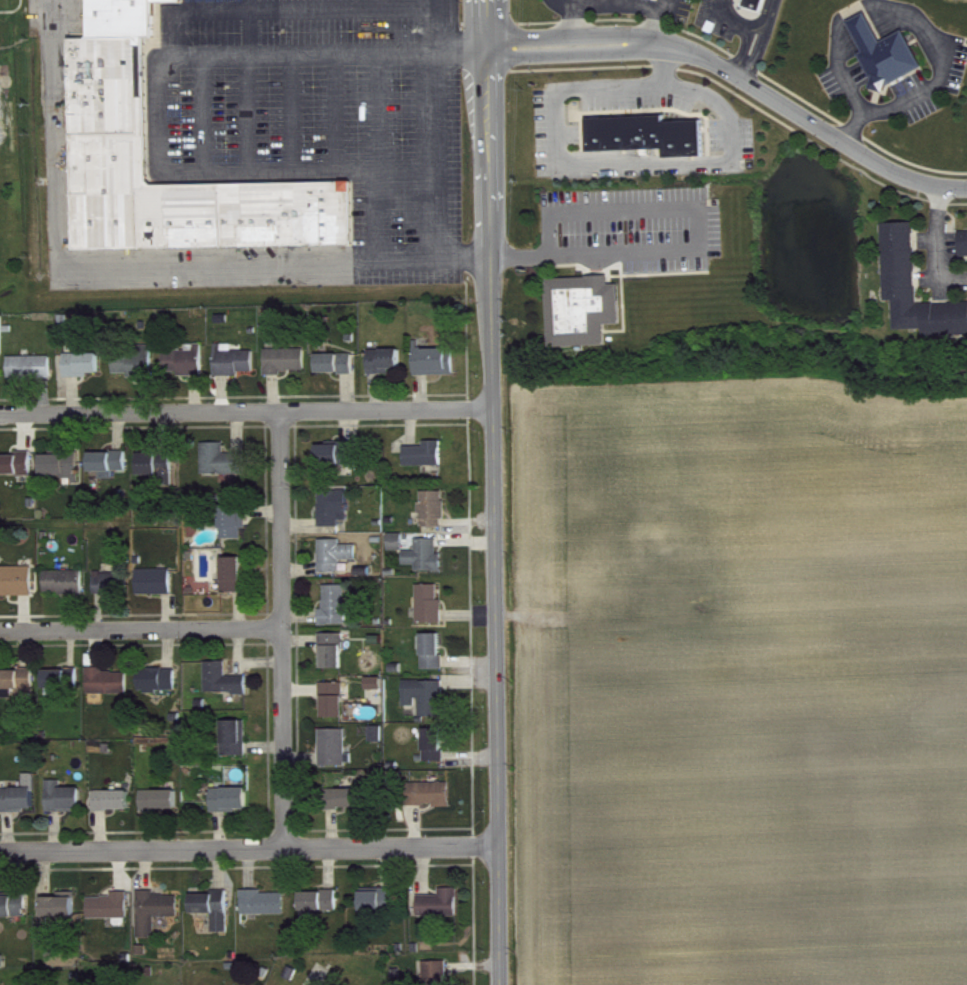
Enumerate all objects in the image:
road: (607, 1)
building: (645, 3)
road: (655, 3)
road: (567, 4)
building: (761, 9)
building: (121, 17)
road: (452, 30)
road: (471, 60)
road: (286, 62)
building: (888, 63)
road: (740, 76)
building: (108, 108)
building: (651, 144)
park: (13, 156)
park: (0, 184)
road: (438, 190)
road: (936, 242)
building: (965, 252)
road: (114, 277)
building: (917, 297)
building: (585, 319)
building: (236, 369)
building: (288, 369)
building: (138, 370)
building: (189, 370)
building: (388, 370)
building: (438, 370)
building: (339, 372)
building: (85, 373)
building: (2, 374)
building: (33, 376)
road: (248, 413)
building: (427, 463)
building: (225, 470)
building: (112, 472)
building: (17, 473)
building: (159, 473)
building: (64, 475)
road: (498, 492)
building: (337, 515)
building: (436, 517)
building: (236, 530)
building: (400, 550)
building: (338, 563)
building: (428, 565)
building: (236, 583)
building: (19, 589)
building: (68, 590)
building: (157, 590)
building: (113, 592)
building: (432, 613)
building: (337, 614)
road: (140, 628)
road: (281, 628)
building: (335, 659)
building: (436, 660)
crop: (739, 685)
building: (161, 688)
building: (226, 688)
building: (111, 690)
building: (60, 691)
building: (20, 692)
building: (378, 692)
building: (428, 705)
building: (336, 708)
building: (238, 747)
building: (437, 753)
building: (338, 757)
building: (433, 803)
building: (23, 805)
building: (67, 806)
building: (348, 807)
building: (234, 808)
building: (116, 809)
building: (163, 809)
road: (251, 843)
building: (382, 909)
building: (266, 911)
building: (321, 911)
building: (443, 912)
building: (63, 914)
building: (15, 915)
building: (113, 915)
building: (216, 917)
building: (158, 920)
building: (49, 944)
building: (439, 977)

